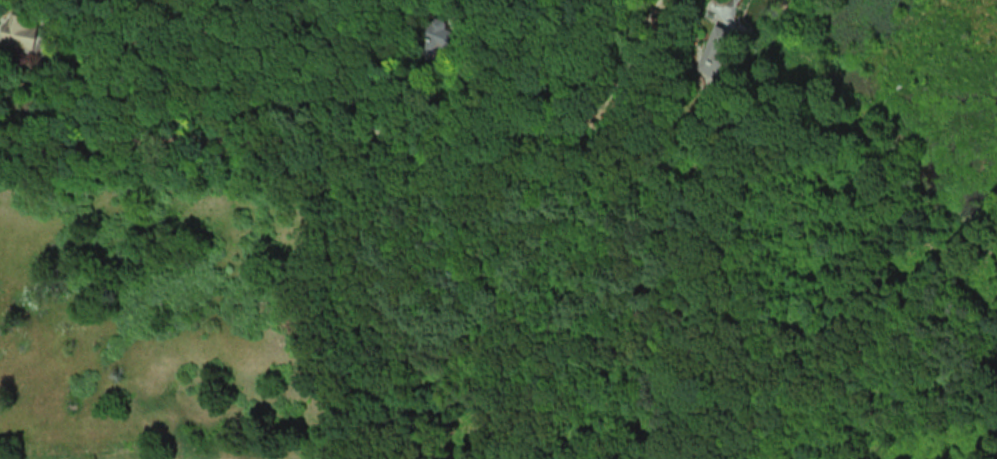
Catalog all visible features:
building: (20, 32)
park: (900, 52)
building: (716, 54)
road: (367, 139)

